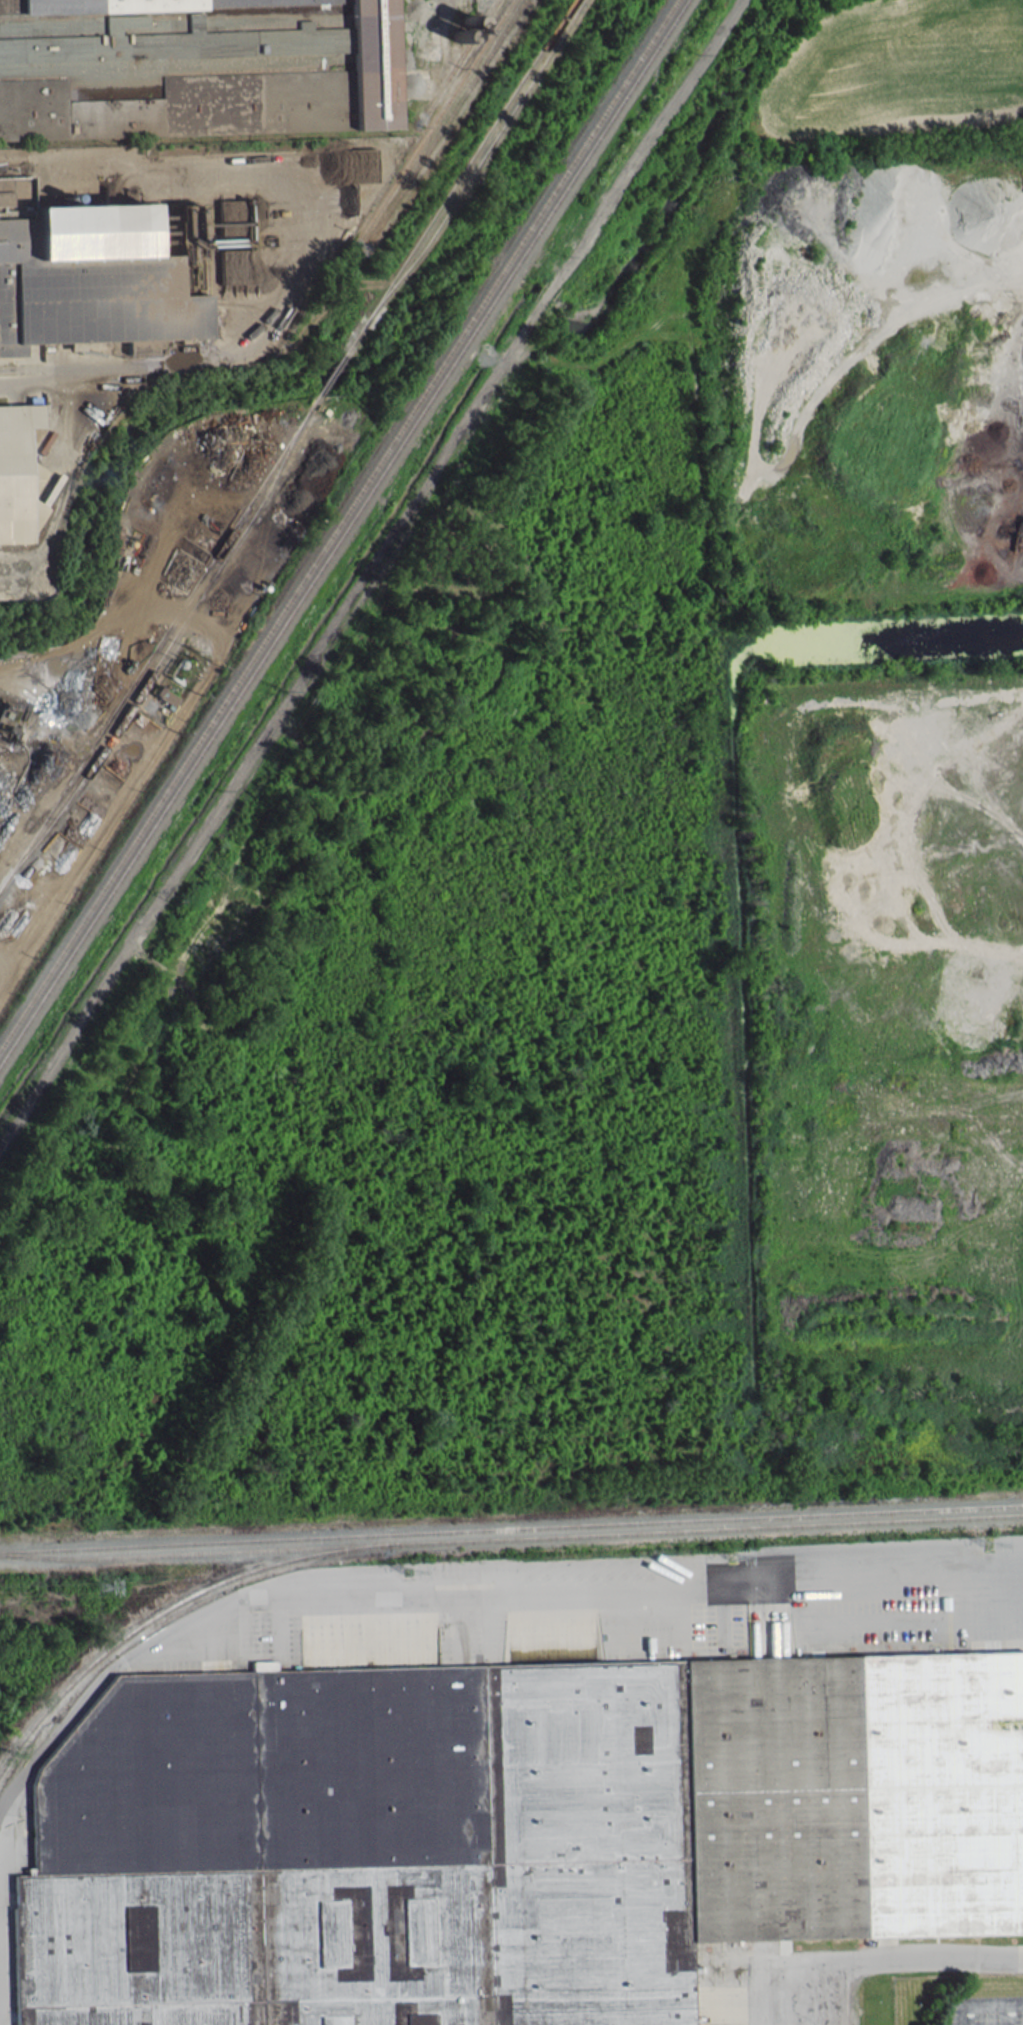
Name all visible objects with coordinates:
railway: (458, 58)
building: (191, 66)
crop: (903, 73)
railway: (435, 115)
railway: (444, 120)
railway: (478, 164)
railway: (284, 444)
building: (18, 474)
railway: (336, 522)
railway: (341, 531)
railway: (68, 756)
railway: (681, 1520)
railway: (511, 1537)
railway: (169, 1543)
power tower: (988, 1546)
power tower: (729, 1559)
power tower: (405, 1574)
road: (469, 1585)
power tower: (94, 1589)
railway: (154, 1617)
building: (505, 1834)
road: (890, 1958)
road: (986, 2006)

